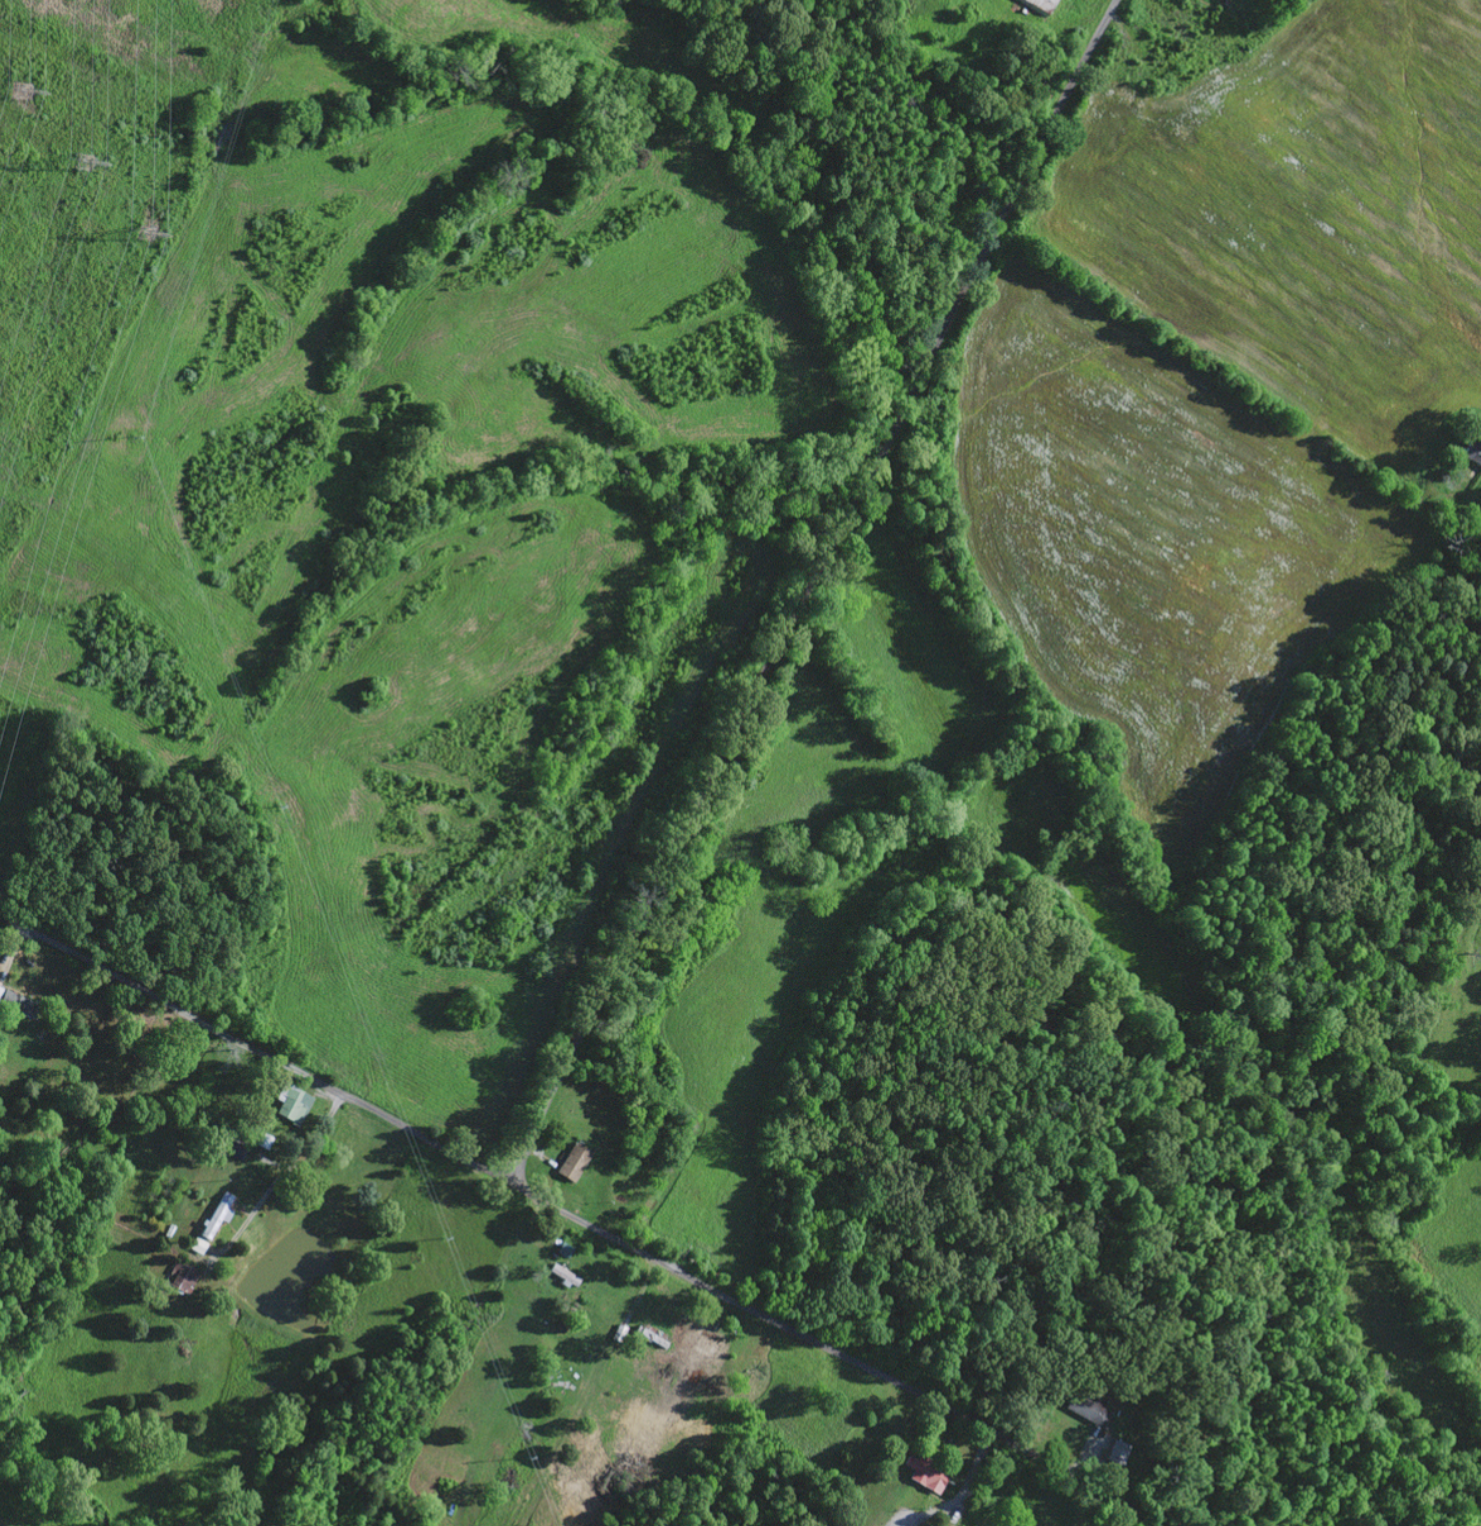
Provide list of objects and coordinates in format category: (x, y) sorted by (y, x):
building: (1040, 4)
road: (1121, 25)
power tower: (21, 88)
power tower: (83, 159)
power tower: (143, 232)
building: (1473, 448)
road: (805, 588)
building: (1, 991)
building: (21, 1005)
road: (263, 1059)
building: (293, 1104)
building: (265, 1141)
building: (572, 1160)
building: (218, 1216)
building: (200, 1246)
building: (564, 1273)
building: (183, 1278)
building: (618, 1330)
building: (647, 1332)
building: (705, 1340)
road: (835, 1350)
building: (1088, 1408)
building: (1116, 1450)
building: (923, 1469)

